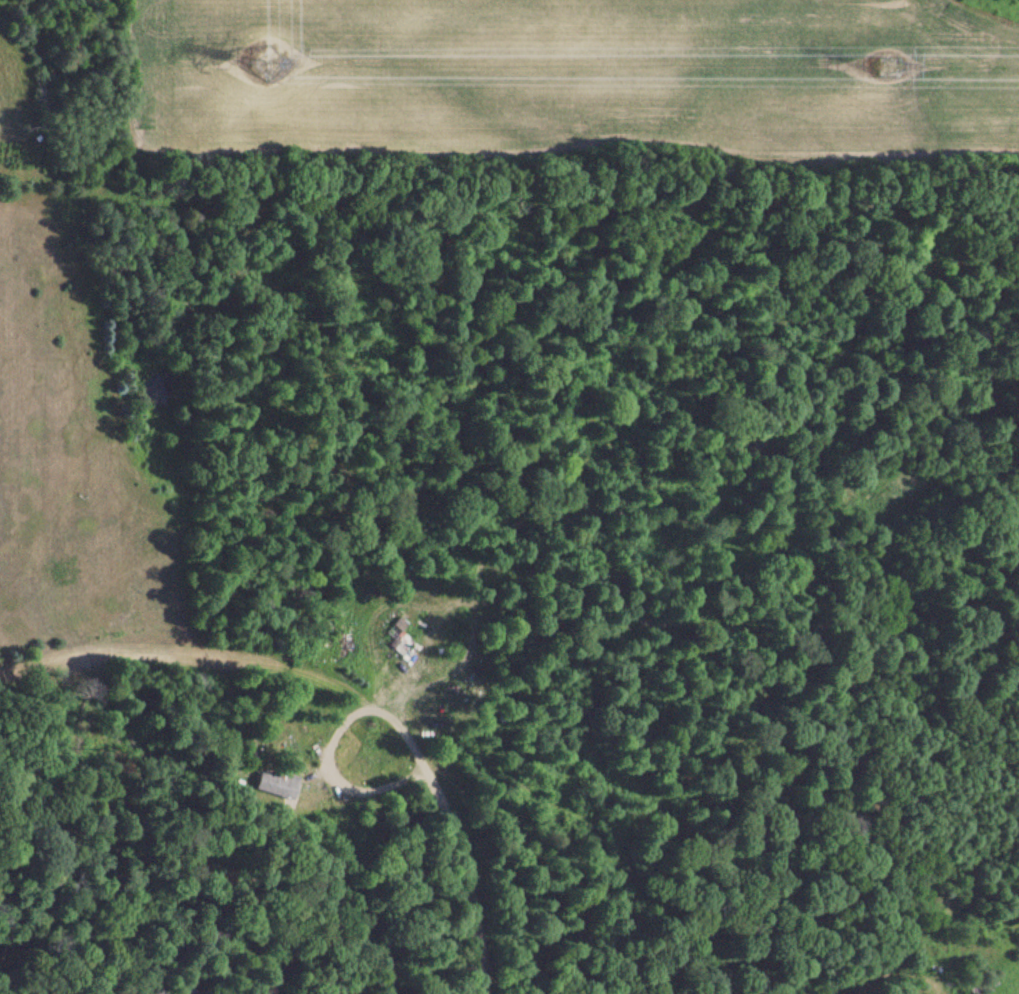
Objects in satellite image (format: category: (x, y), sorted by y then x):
power tower: (264, 57)
power tower: (884, 61)
building: (396, 637)
road: (339, 677)
building: (274, 785)

